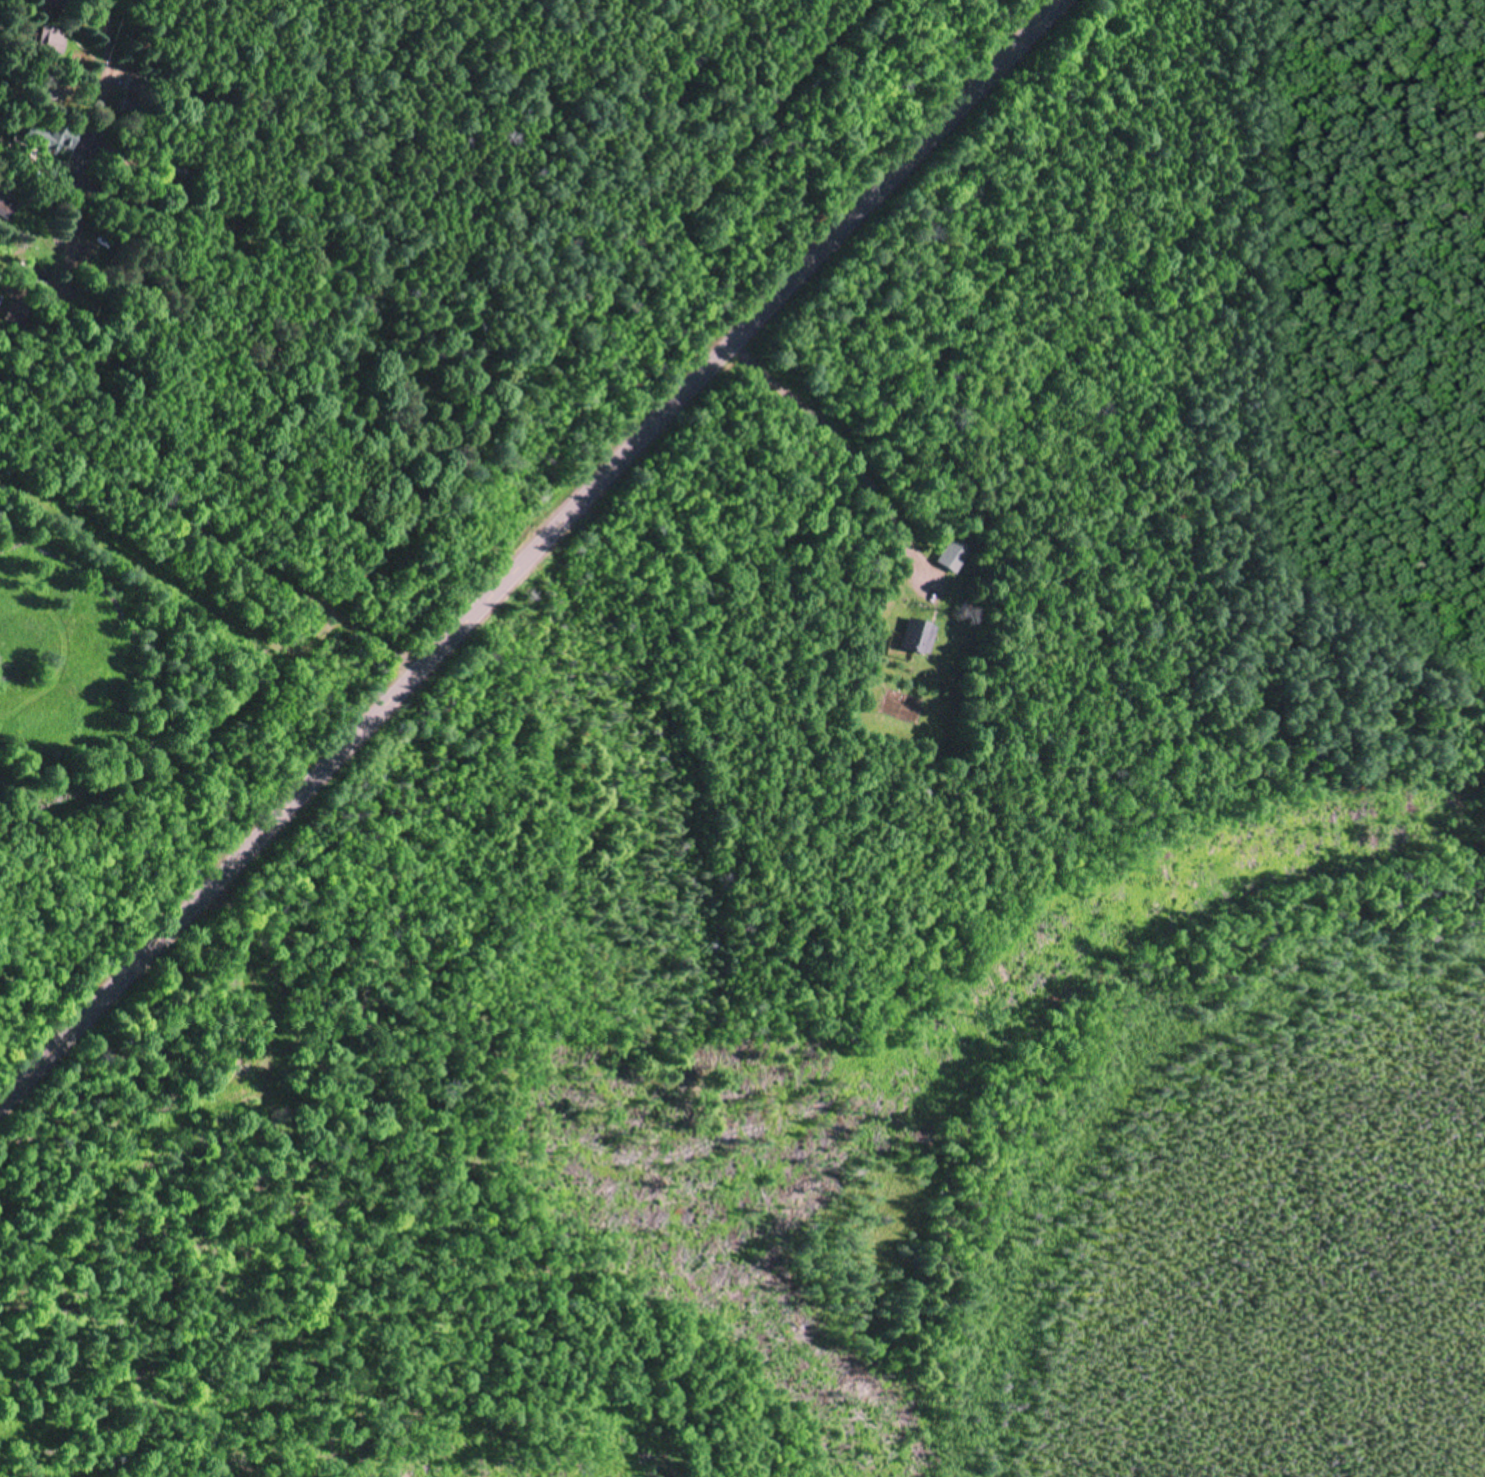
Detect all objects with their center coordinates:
building: (52, 41)
road: (108, 107)
building: (46, 139)
building: (7, 211)
road: (218, 525)
road: (526, 567)
road: (175, 663)
road: (6, 1134)

